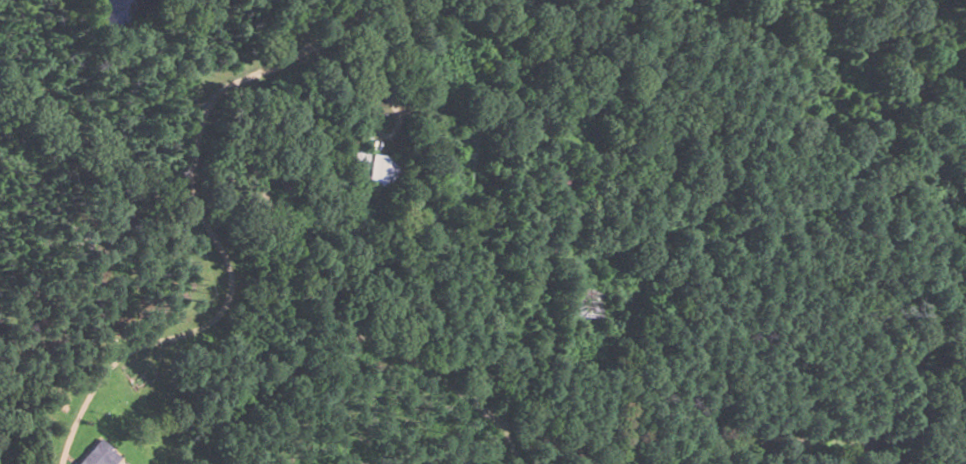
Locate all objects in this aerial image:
road: (366, 47)
building: (354, 158)
building: (469, 161)
building: (382, 170)
building: (586, 301)

